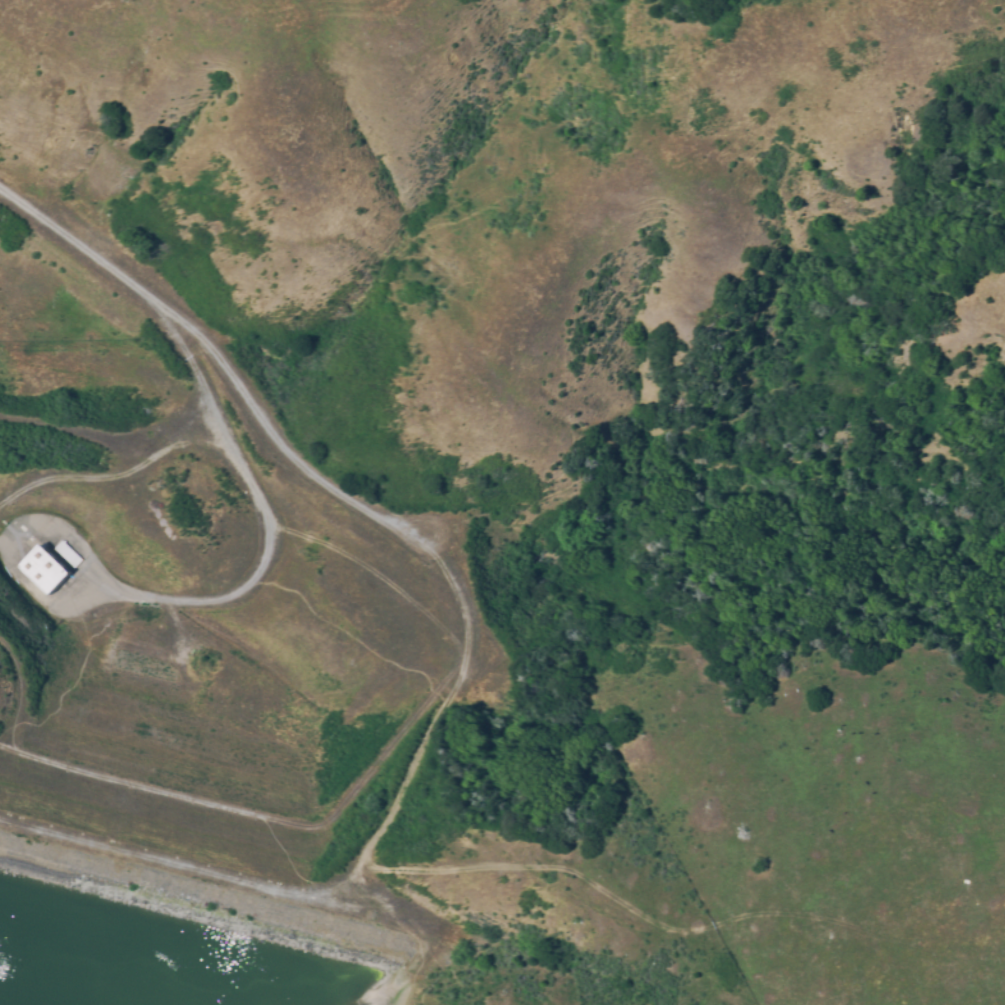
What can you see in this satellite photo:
road: (206, 341)
road: (184, 346)
road: (122, 480)
road: (267, 560)
building: (49, 566)
dam: (211, 926)

